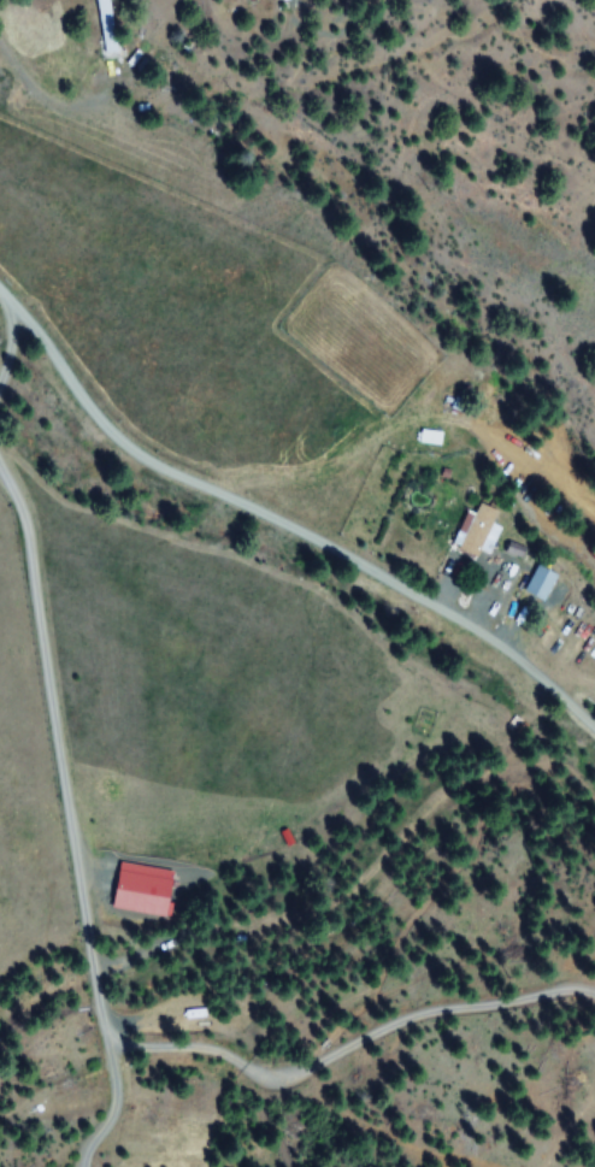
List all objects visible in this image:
building: (106, 25)
road: (24, 314)
road: (25, 397)
building: (478, 531)
road: (308, 536)
building: (540, 583)
building: (140, 890)

